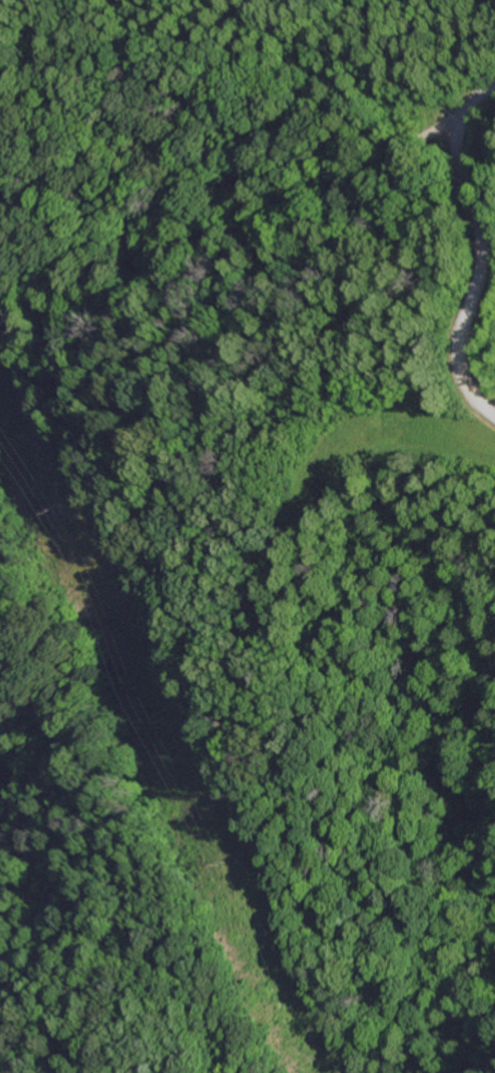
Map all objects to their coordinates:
road: (251, 73)
road: (425, 132)
road: (482, 251)

